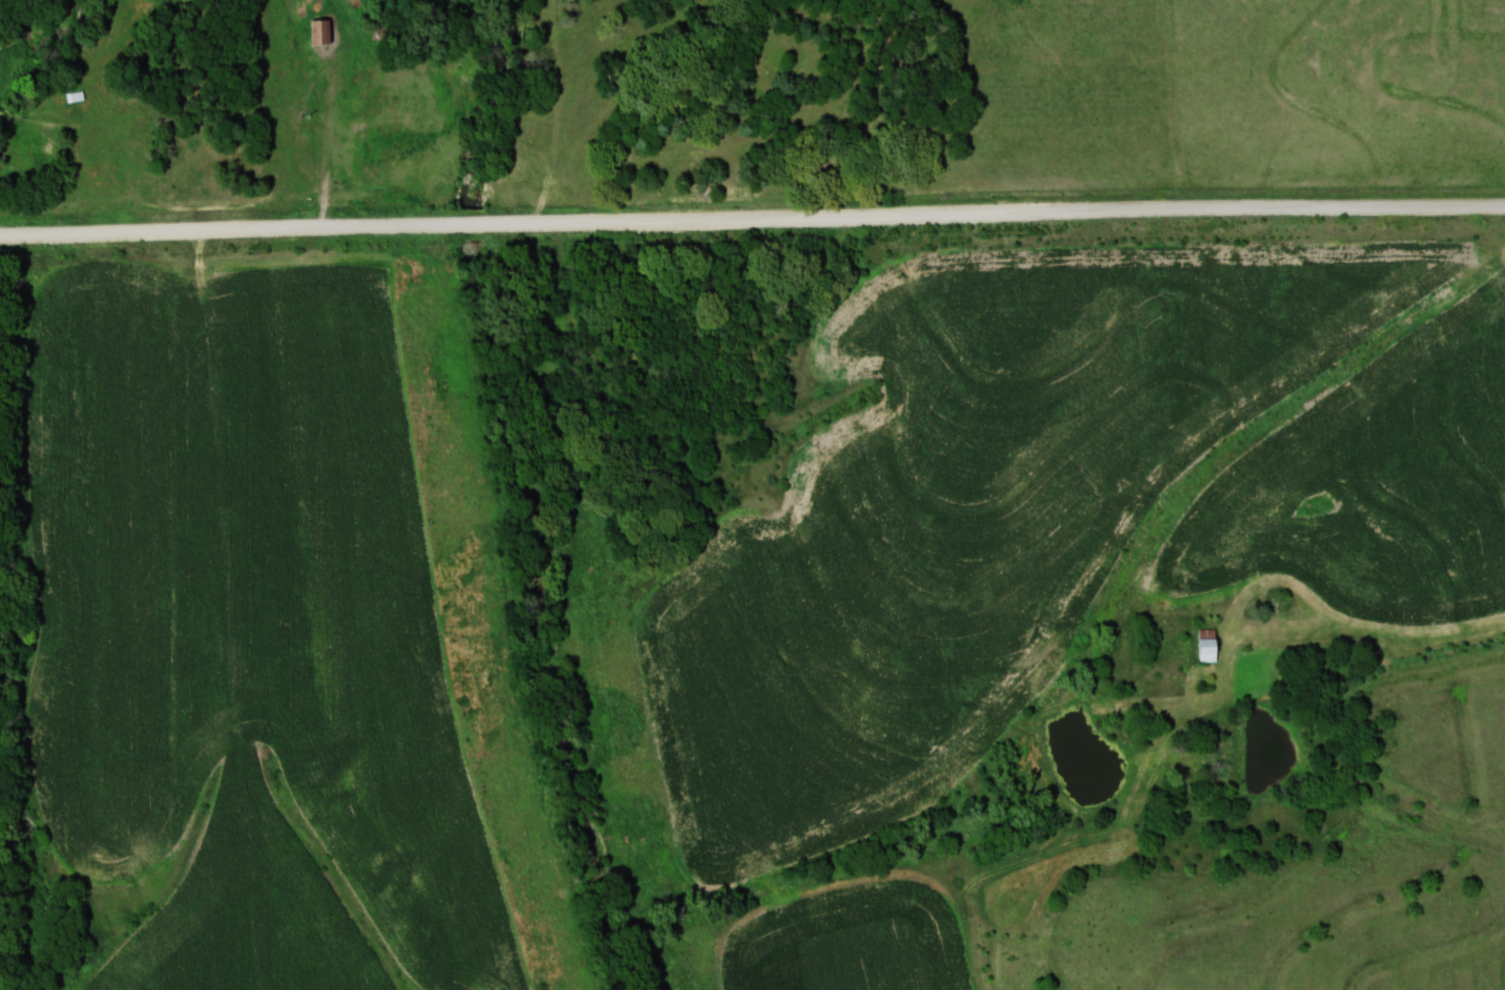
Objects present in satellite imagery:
building: (321, 34)
building: (75, 96)
road: (1005, 217)
road: (480, 222)
road: (227, 229)
building: (1208, 645)

